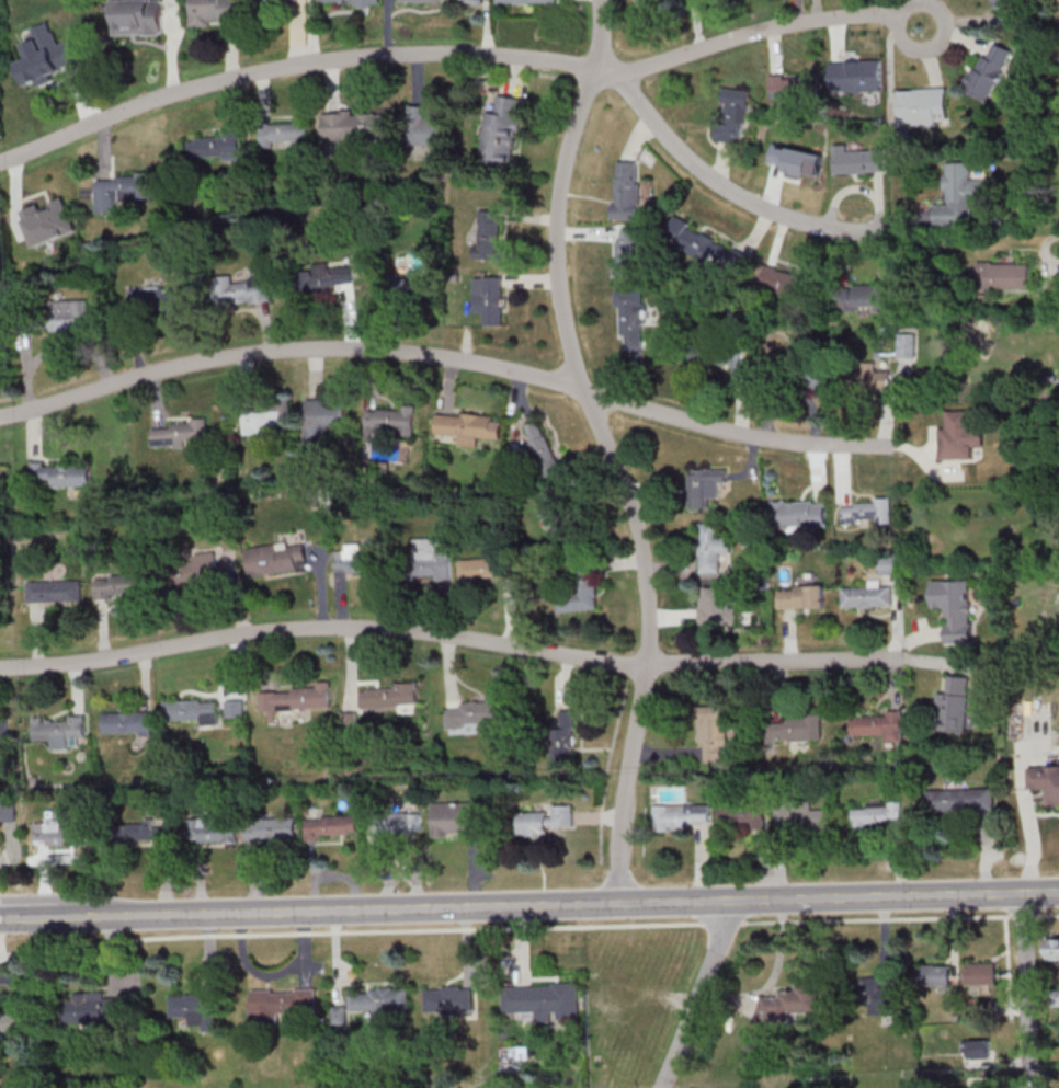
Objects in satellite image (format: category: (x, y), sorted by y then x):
building: (273, 1)
building: (425, 1)
building: (472, 1)
building: (524, 1)
building: (349, 2)
building: (1002, 2)
building: (213, 12)
building: (136, 18)
road: (459, 56)
building: (44, 61)
building: (989, 71)
building: (856, 80)
building: (794, 88)
building: (923, 107)
building: (731, 117)
road: (651, 119)
building: (353, 128)
building: (425, 129)
building: (501, 133)
building: (284, 134)
building: (214, 148)
building: (796, 148)
building: (857, 161)
building: (625, 191)
building: (118, 192)
building: (963, 196)
road: (774, 210)
building: (488, 236)
building: (33, 237)
building: (708, 250)
building: (626, 253)
building: (1003, 276)
building: (323, 279)
building: (784, 282)
building: (413, 288)
building: (240, 290)
building: (859, 297)
building: (152, 300)
building: (489, 300)
building: (52, 317)
building: (629, 317)
building: (907, 346)
building: (724, 358)
road: (448, 362)
building: (802, 373)
building: (866, 379)
building: (266, 416)
building: (324, 423)
building: (390, 423)
building: (469, 426)
building: (180, 434)
building: (959, 435)
building: (542, 448)
road: (608, 449)
building: (60, 474)
building: (705, 486)
building: (866, 512)
building: (558, 513)
building: (799, 514)
building: (711, 547)
building: (361, 558)
building: (277, 559)
building: (429, 559)
building: (192, 570)
building: (485, 570)
building: (119, 586)
building: (579, 588)
building: (50, 592)
building: (800, 597)
building: (866, 597)
building: (715, 606)
building: (955, 608)
road: (449, 640)
building: (1047, 780)
road: (839, 896)
road: (308, 912)
road: (1046, 915)
road: (1023, 916)
road: (877, 918)
road: (724, 923)
road: (351, 932)
building: (1055, 949)
road: (0, 964)
road: (1009, 967)
building: (983, 973)
road: (596, 974)
building: (935, 974)
road: (1026, 988)
building: (628, 990)
building: (874, 995)
road: (701, 996)
building: (448, 997)
building: (379, 998)
building: (543, 1000)
building: (280, 1003)
building: (789, 1004)
building: (94, 1007)
building: (193, 1009)
building: (13, 1021)
building: (980, 1047)

